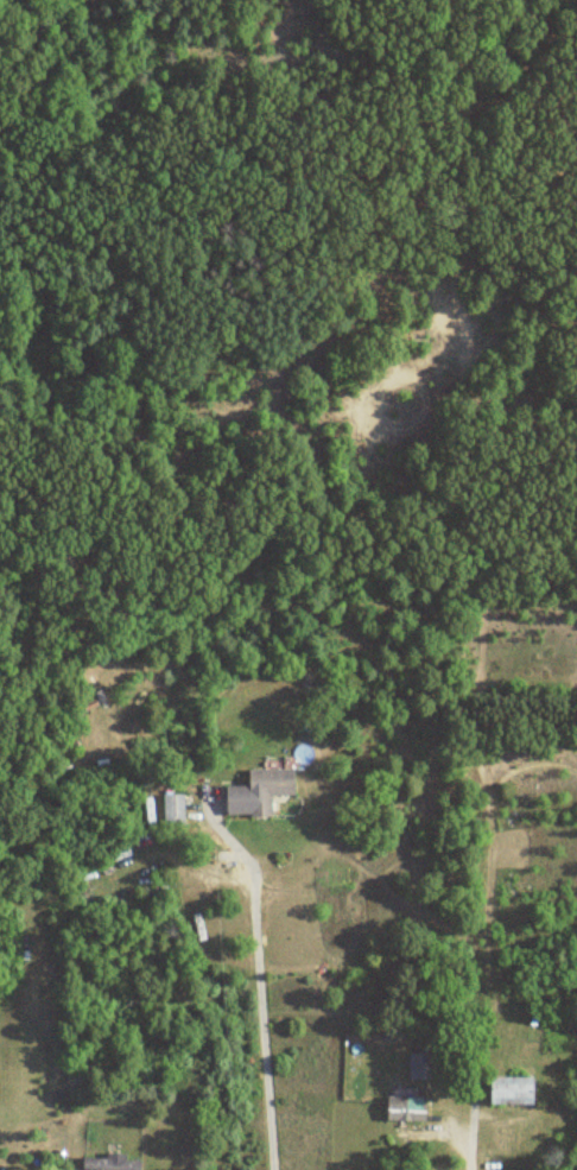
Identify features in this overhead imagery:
building: (256, 791)
building: (172, 809)
road: (261, 998)
building: (416, 1065)
building: (508, 1090)
building: (404, 1108)
road: (465, 1138)
building: (109, 1163)

